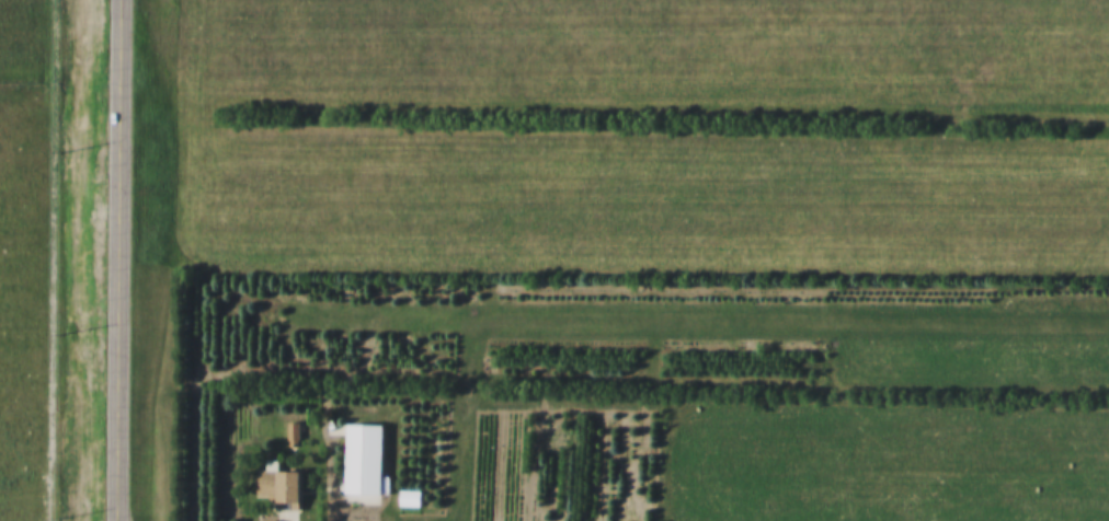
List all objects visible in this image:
road: (118, 259)
road: (769, 279)
building: (363, 464)
building: (285, 489)
building: (407, 497)

